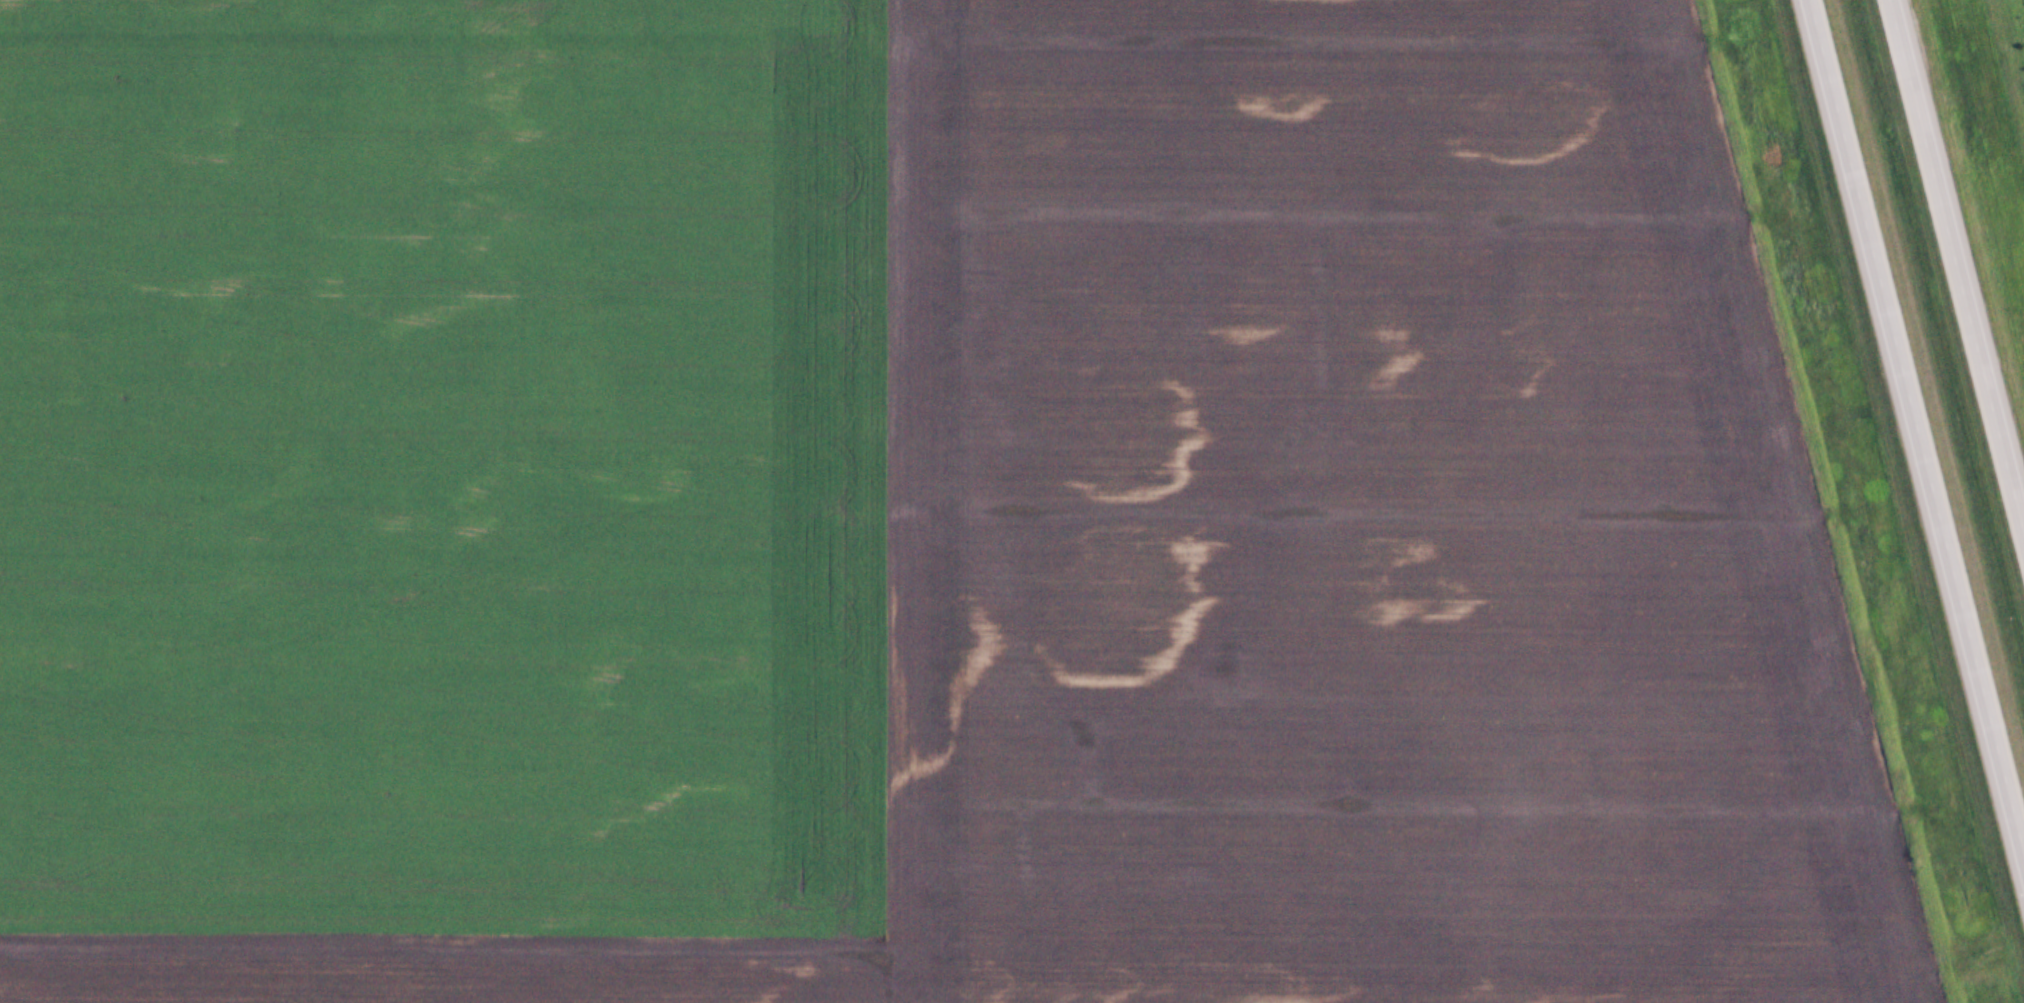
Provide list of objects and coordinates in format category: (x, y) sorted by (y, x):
road: (1956, 264)
road: (1916, 431)

